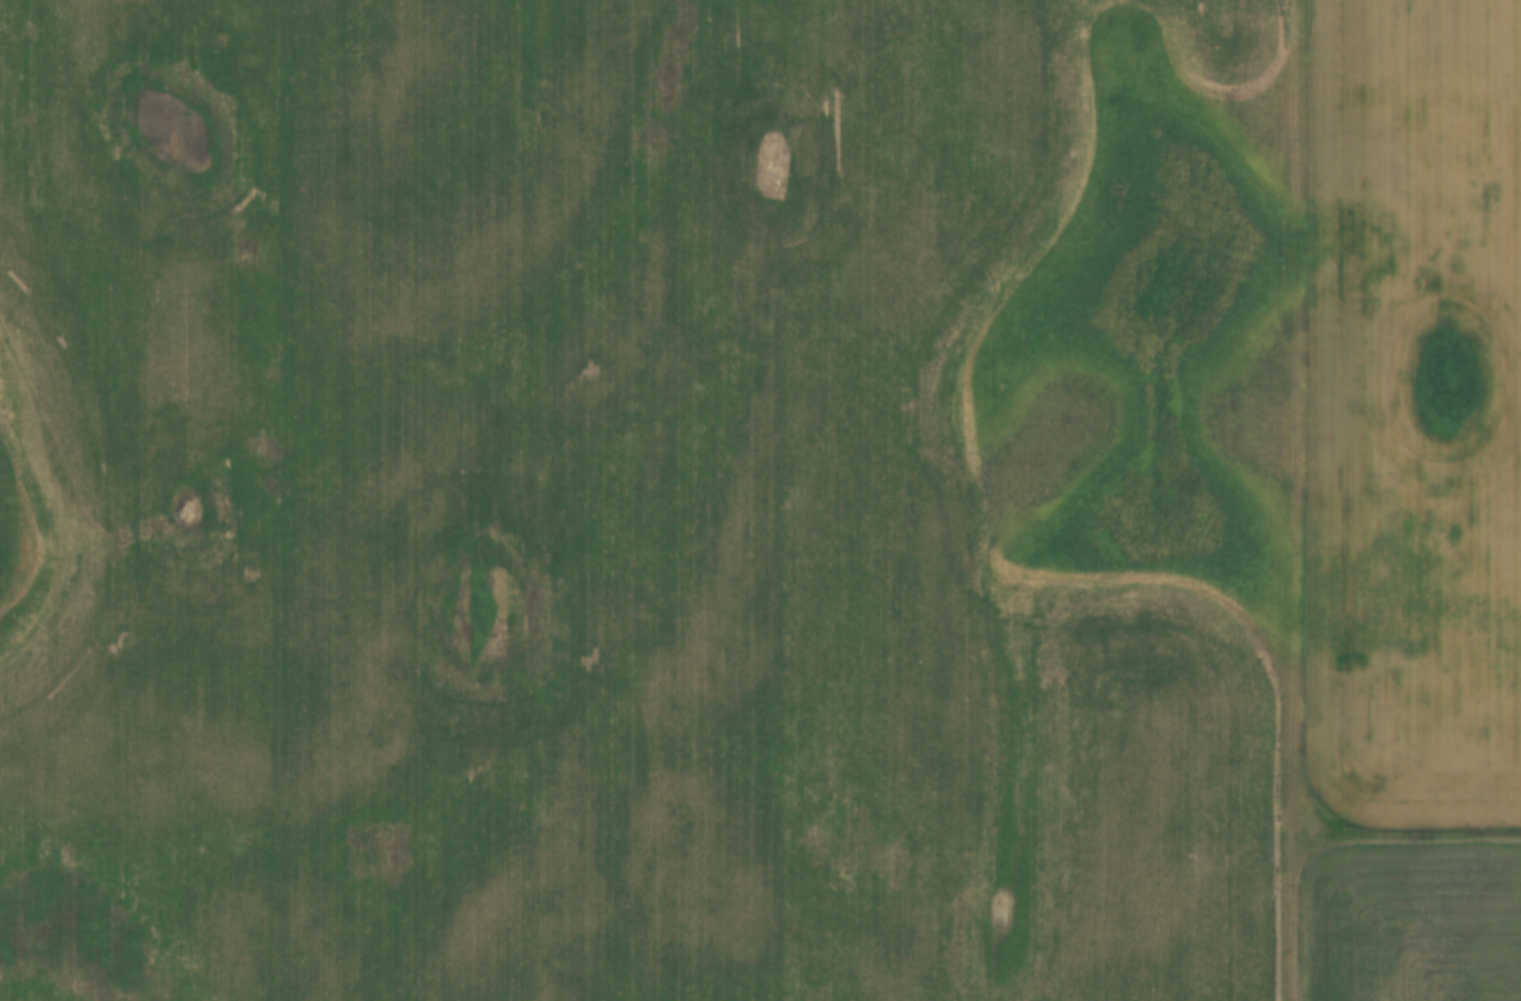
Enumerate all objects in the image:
road: (1296, 500)

